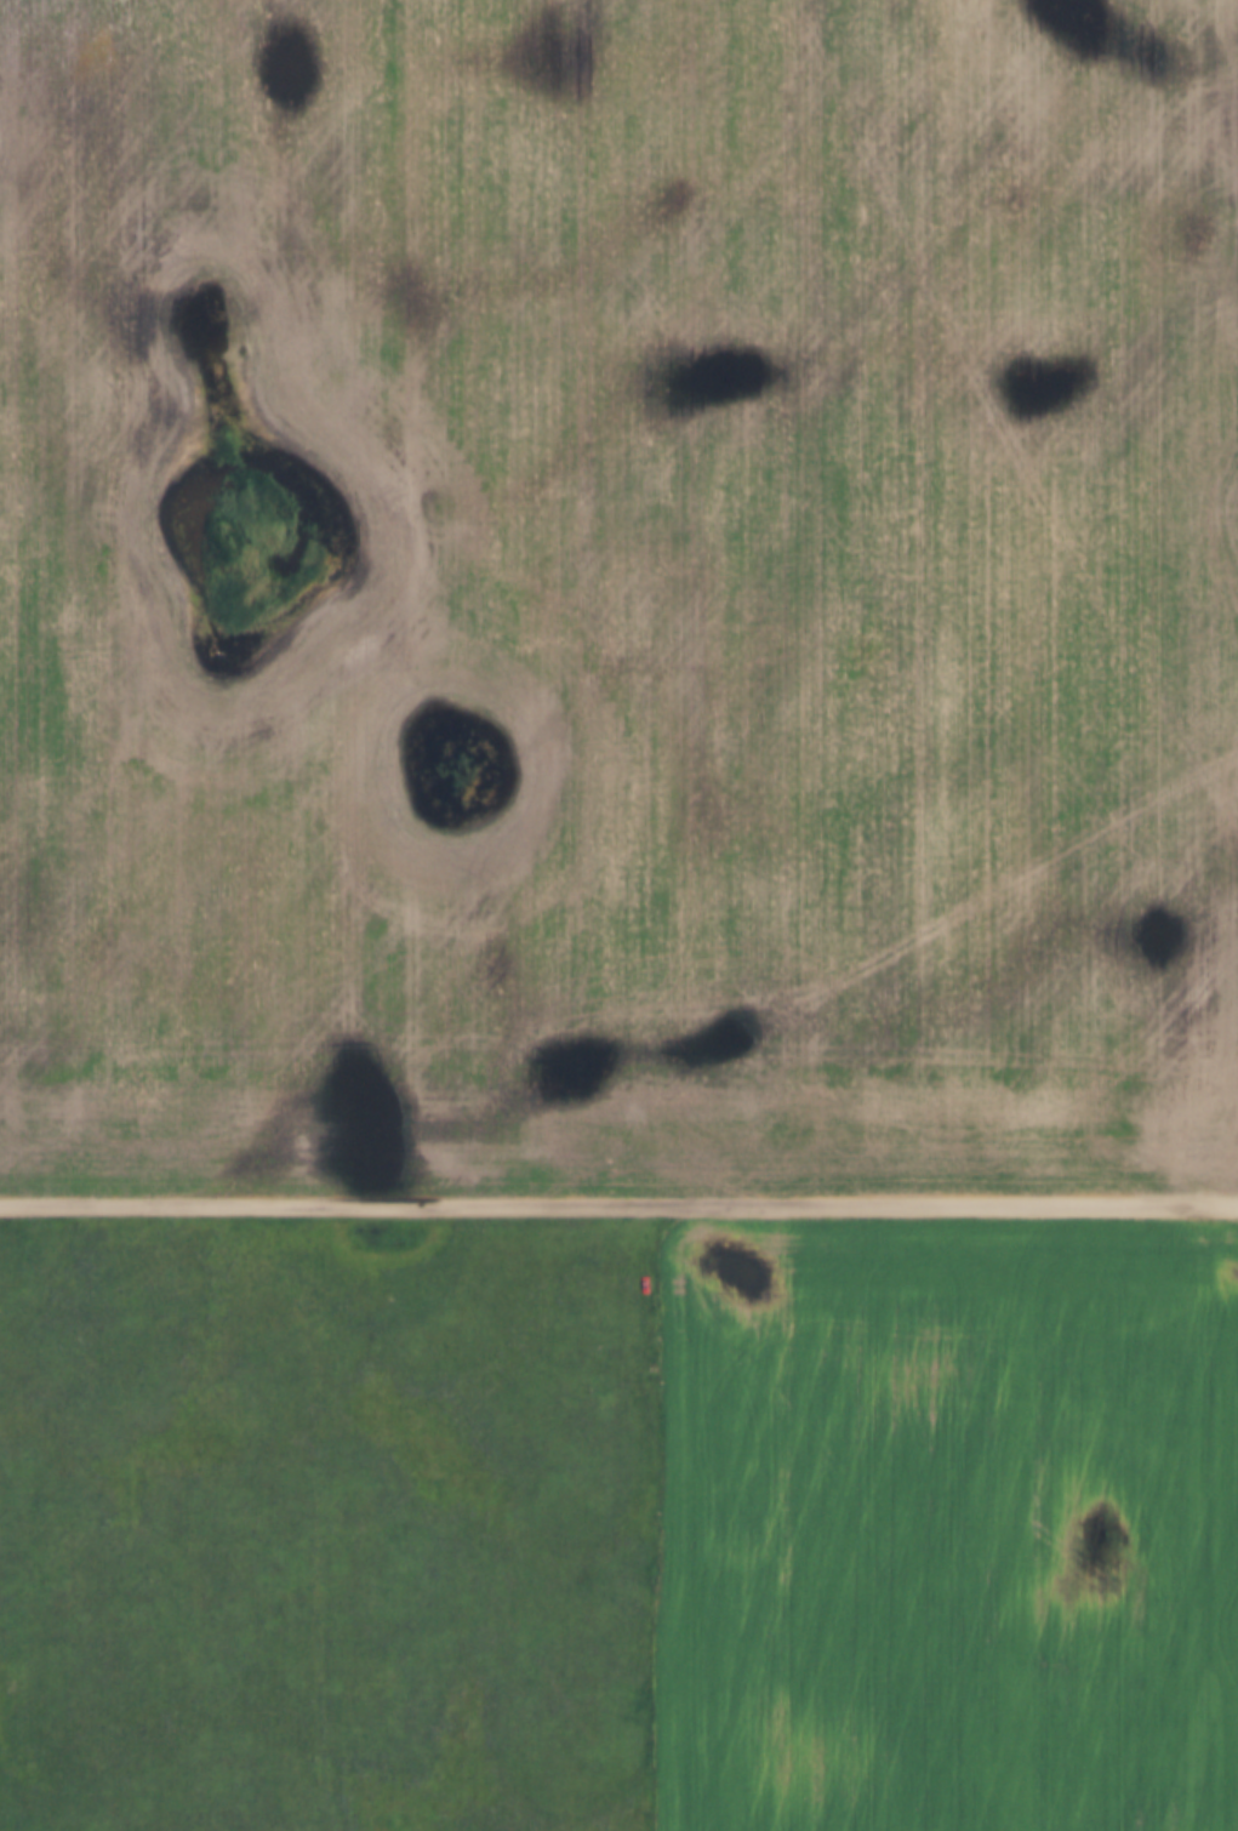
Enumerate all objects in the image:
road: (618, 1203)

